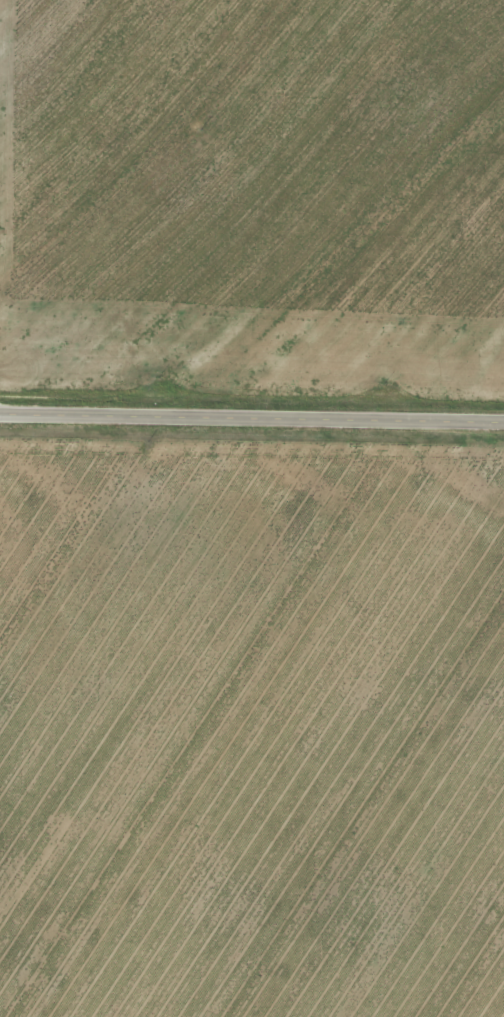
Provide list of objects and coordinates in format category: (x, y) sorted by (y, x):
road: (252, 416)

